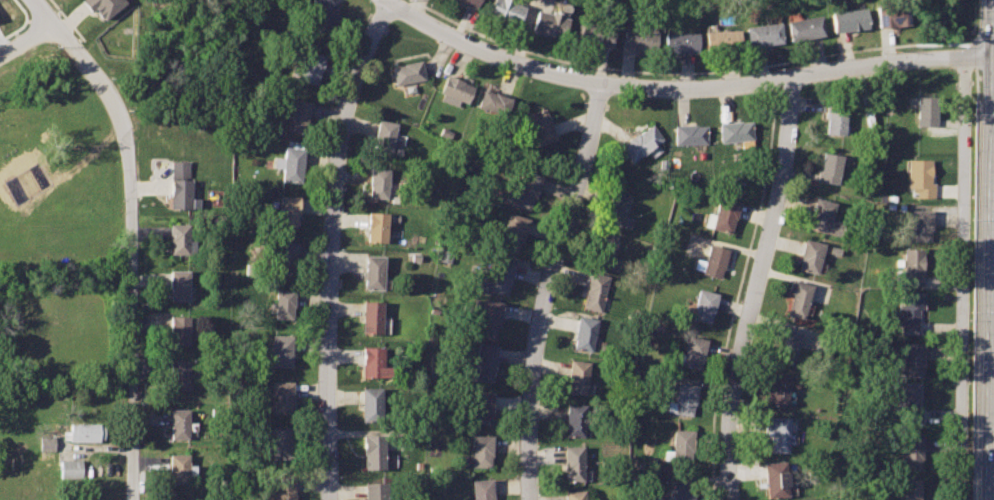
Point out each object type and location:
building: (467, 2)
building: (103, 6)
road: (411, 6)
road: (22, 8)
building: (504, 10)
road: (42, 11)
building: (322, 12)
building: (888, 16)
road: (34, 17)
park: (941, 19)
road: (67, 20)
building: (846, 20)
building: (546, 23)
building: (801, 28)
road: (14, 29)
building: (760, 34)
building: (594, 35)
road: (26, 39)
building: (636, 39)
building: (719, 40)
road: (982, 41)
building: (677, 42)
road: (972, 54)
building: (308, 67)
road: (659, 70)
building: (407, 72)
road: (769, 75)
road: (682, 86)
building: (455, 91)
building: (494, 102)
building: (923, 109)
building: (297, 116)
building: (835, 117)
building: (539, 124)
building: (737, 131)
building: (384, 133)
building: (690, 133)
building: (642, 142)
building: (288, 164)
building: (829, 165)
building: (919, 176)
building: (379, 181)
building: (180, 185)
building: (524, 190)
building: (615, 207)
building: (283, 211)
building: (723, 212)
building: (822, 215)
building: (916, 223)
building: (376, 225)
building: (512, 231)
building: (180, 238)
road: (331, 246)
building: (602, 248)
road: (988, 249)
road: (132, 250)
building: (836, 250)
building: (281, 254)
building: (810, 254)
road: (991, 258)
building: (713, 260)
building: (909, 264)
building: (373, 270)
building: (497, 276)
road: (962, 279)
road: (974, 282)
building: (178, 283)
road: (546, 288)
road: (755, 288)
building: (592, 289)
road: (736, 293)
building: (799, 297)
building: (283, 302)
building: (703, 303)
building: (908, 307)
building: (487, 315)
building: (372, 316)
building: (179, 328)
building: (582, 333)
building: (786, 343)
building: (281, 348)
building: (692, 351)
building: (911, 359)
building: (374, 361)
building: (480, 361)
building: (179, 372)
building: (574, 375)
building: (777, 387)
building: (282, 395)
building: (681, 397)
building: (905, 400)
building: (370, 403)
building: (480, 406)
building: (571, 418)
building: (179, 421)
building: (83, 430)
building: (777, 430)
building: (282, 442)
building: (678, 444)
building: (46, 446)
road: (96, 447)
building: (372, 450)
building: (480, 450)
building: (910, 450)
building: (570, 461)
building: (70, 466)
building: (179, 467)
building: (775, 476)
building: (284, 486)
building: (681, 487)
building: (480, 488)
building: (908, 488)
building: (373, 490)
building: (573, 495)
building: (177, 499)

